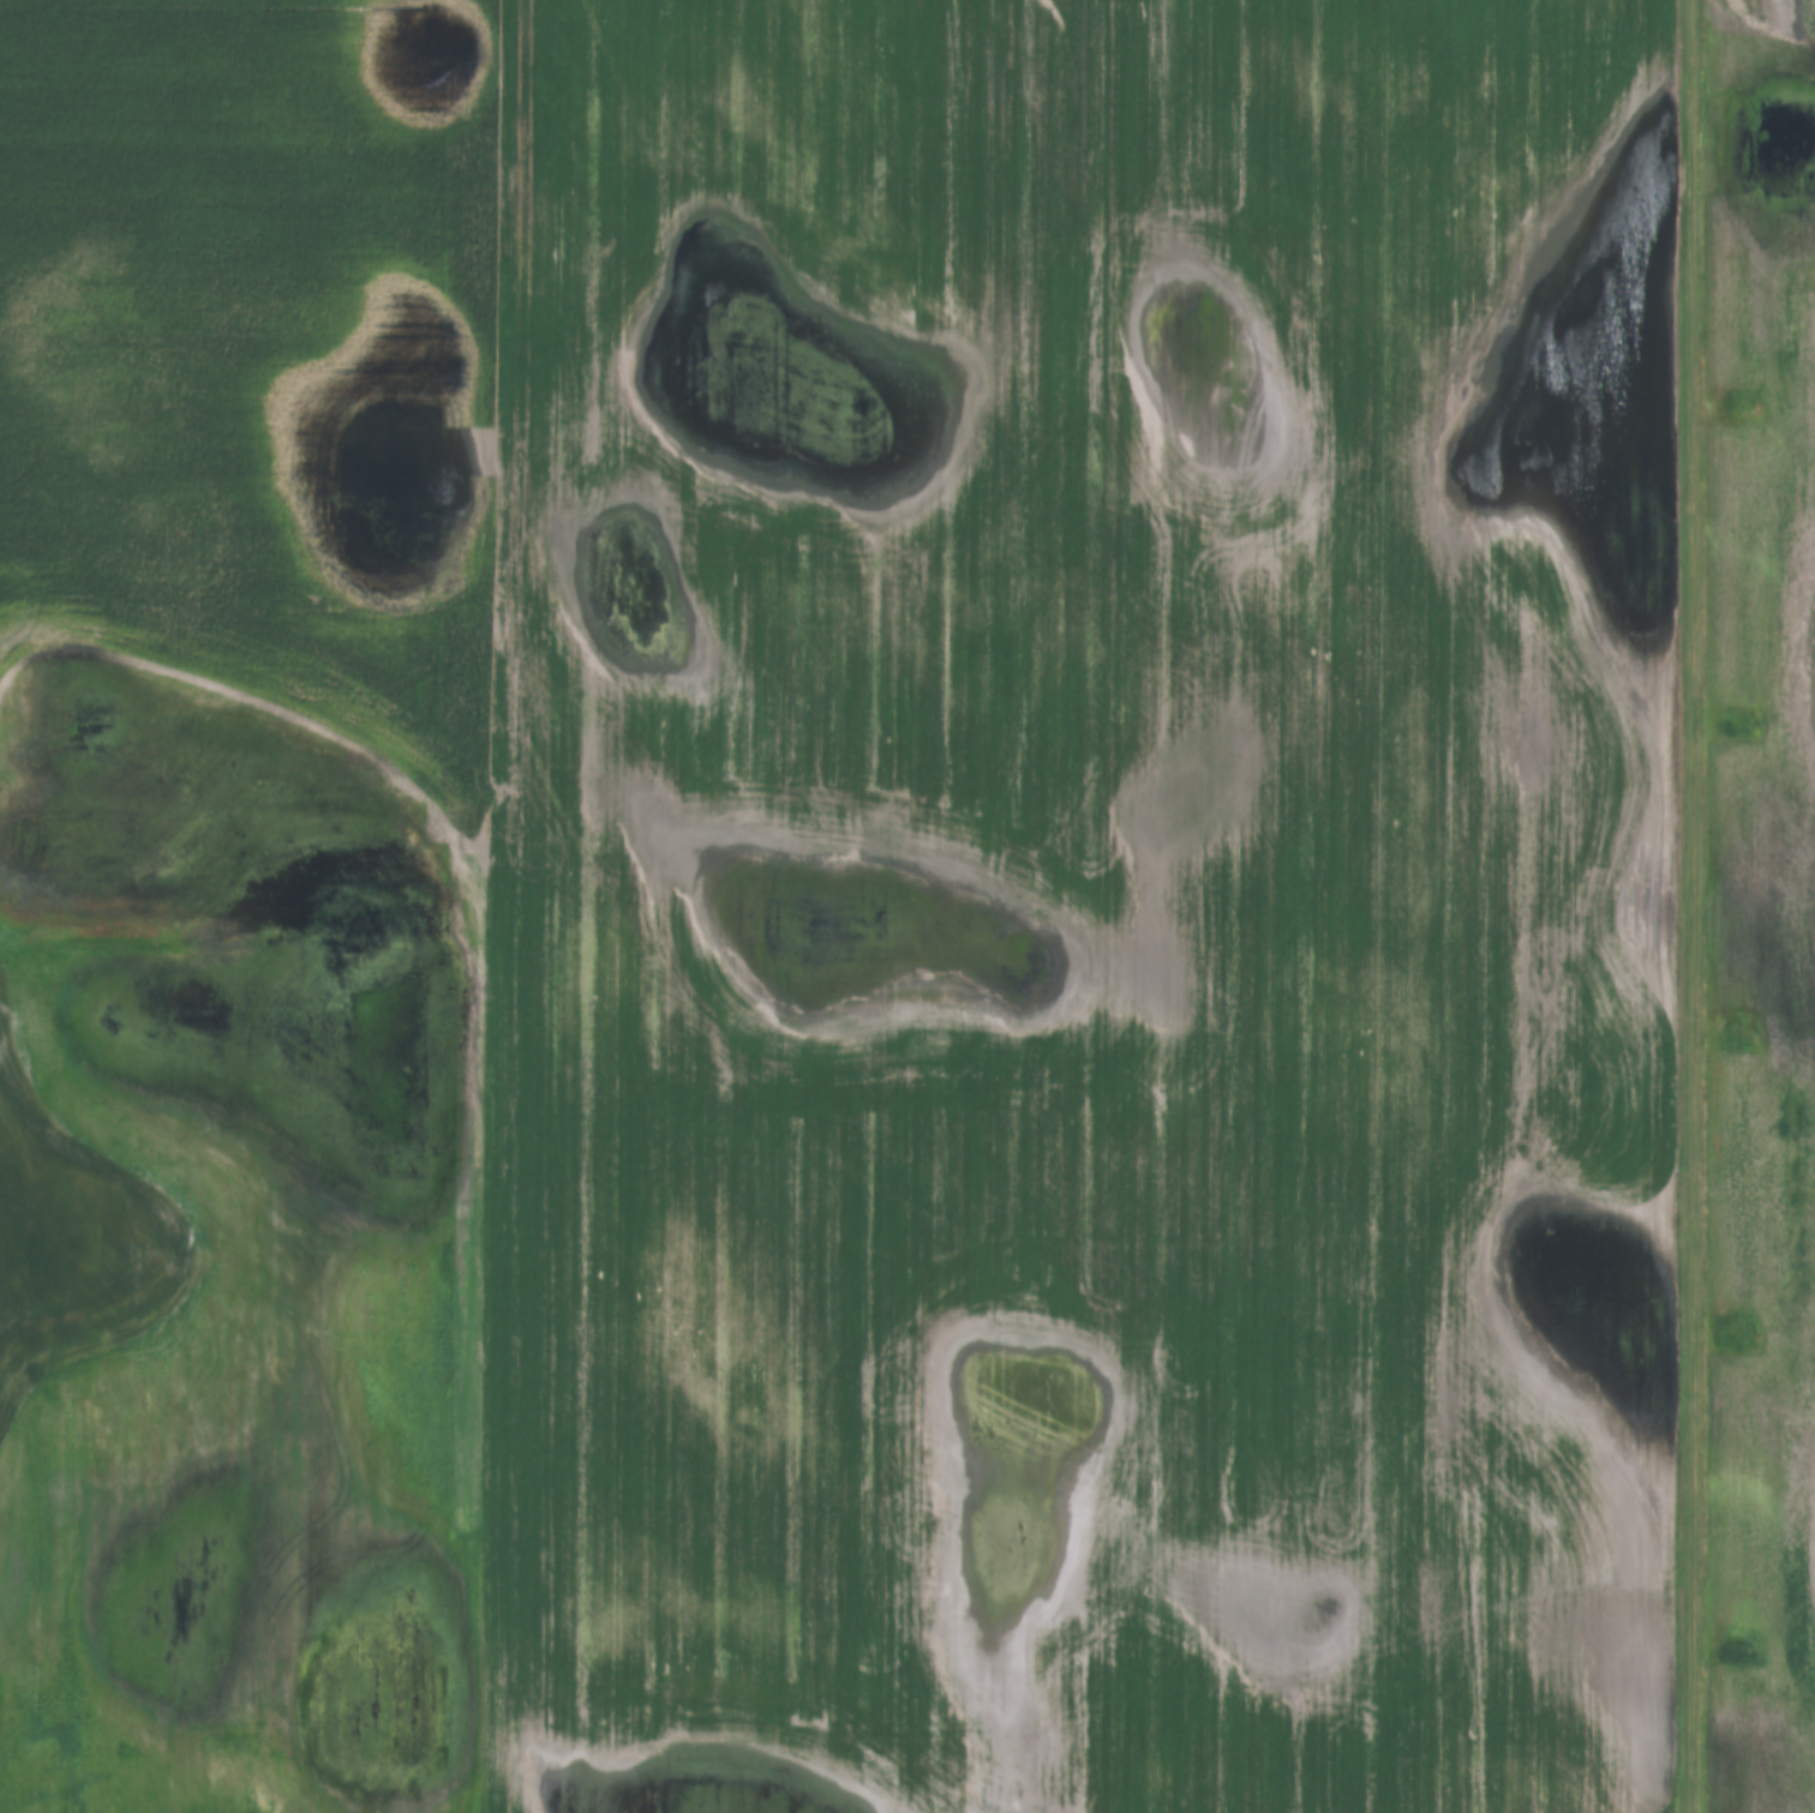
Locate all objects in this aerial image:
road: (1689, 906)

